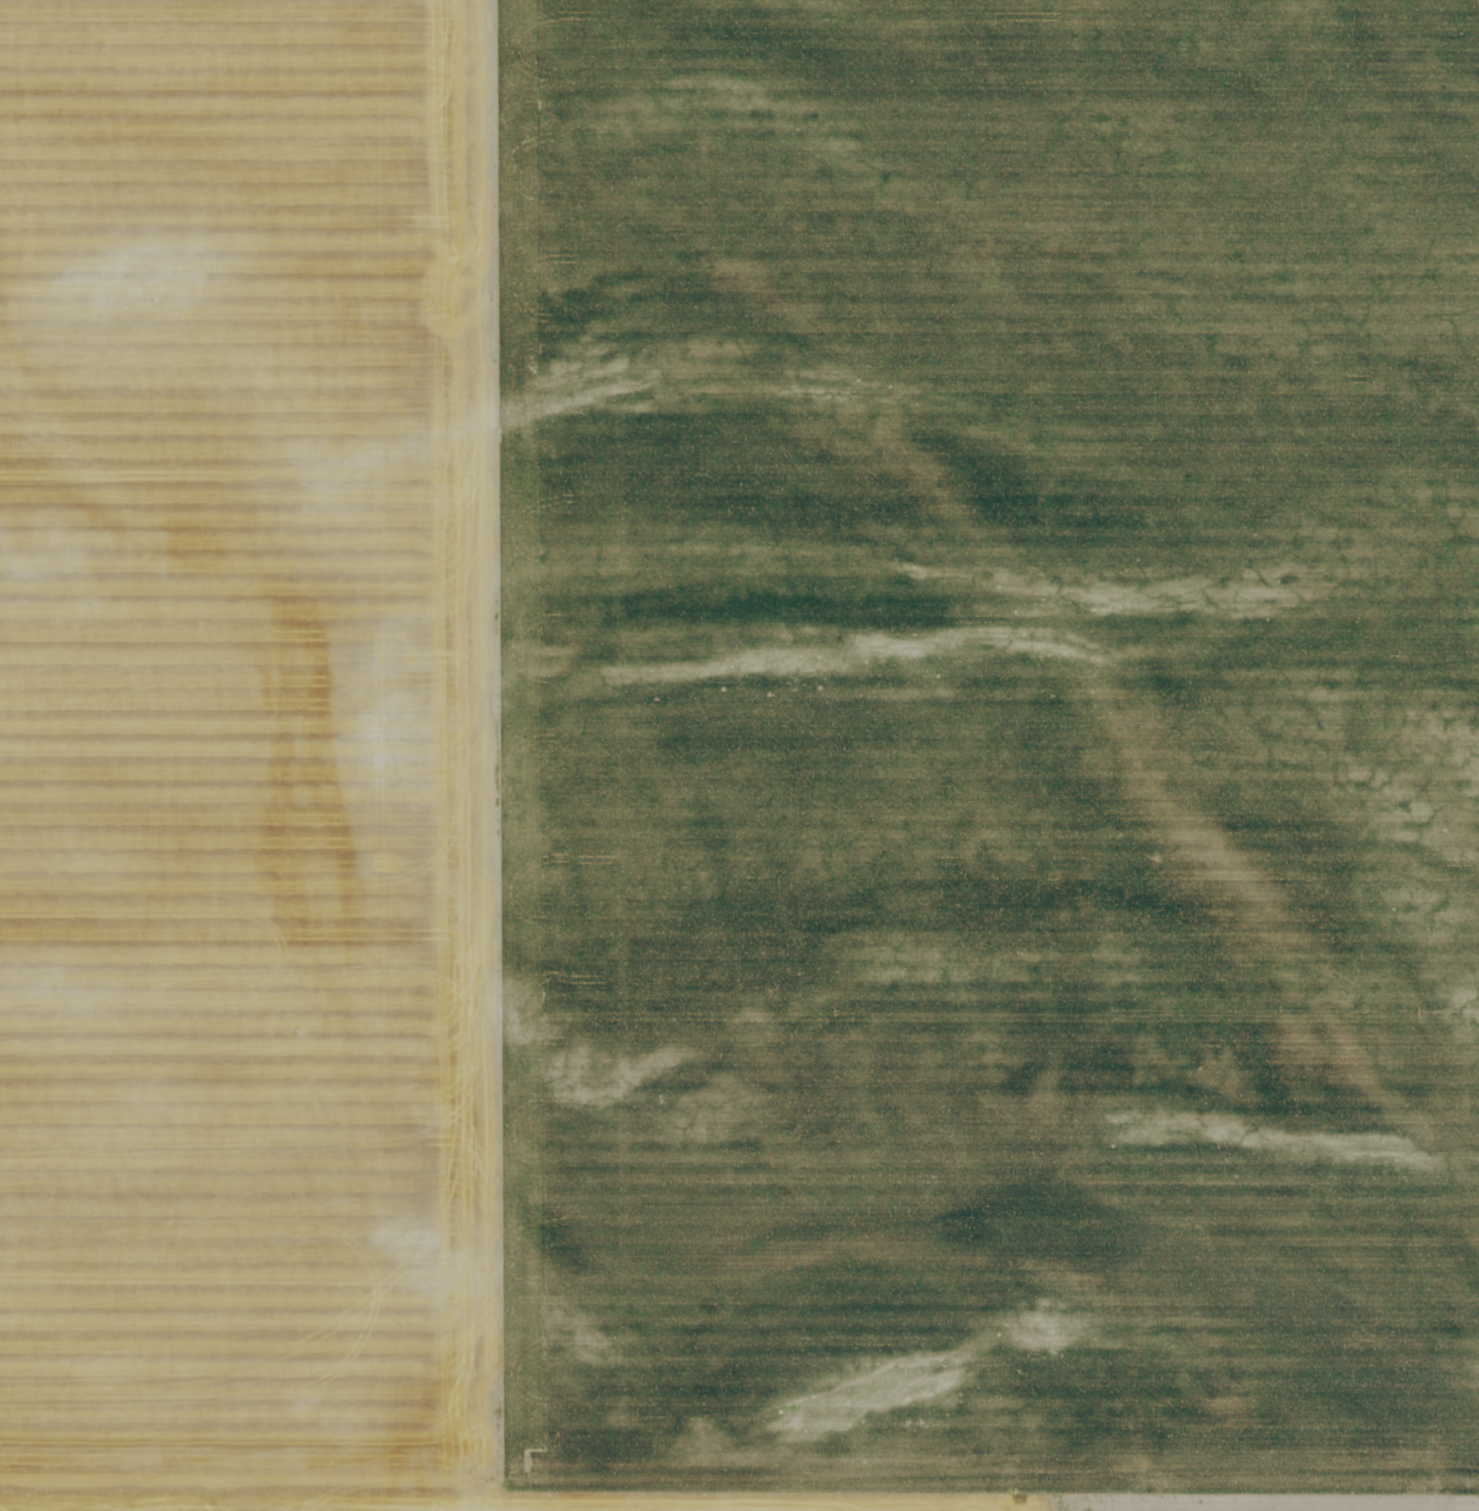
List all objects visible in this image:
crop: (739, 755)

